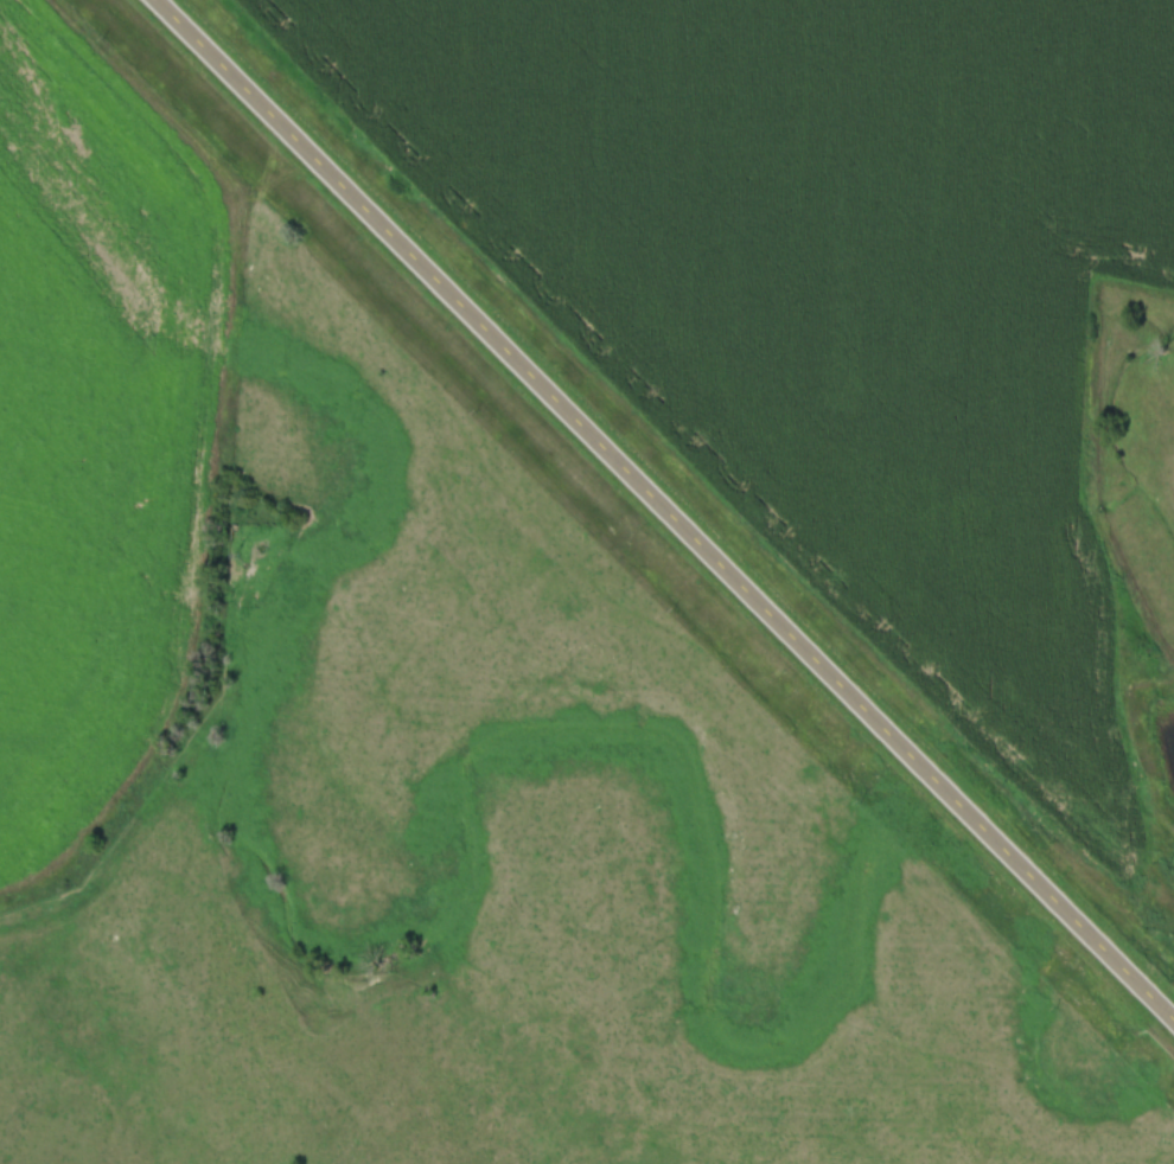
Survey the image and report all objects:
road: (665, 510)

